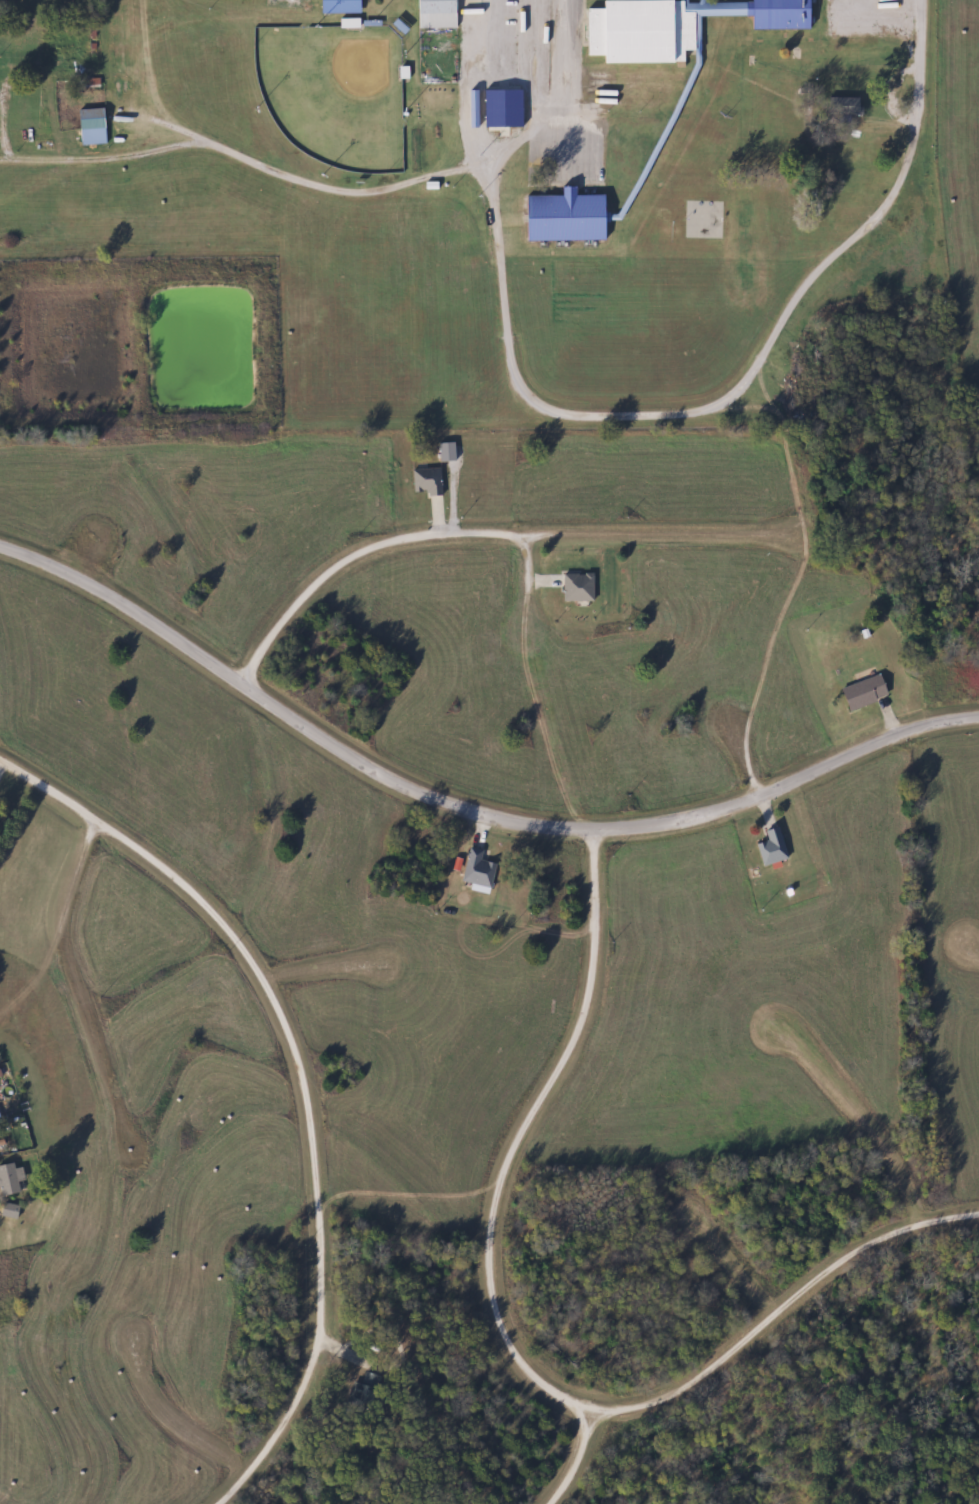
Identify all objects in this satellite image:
building: (434, 14)
building: (673, 26)
road: (919, 81)
building: (841, 105)
building: (89, 118)
road: (406, 181)
building: (561, 216)
building: (425, 481)
road: (101, 529)
road: (473, 533)
building: (575, 587)
road: (549, 605)
building: (861, 692)
road: (746, 763)
road: (464, 806)
building: (769, 847)
building: (476, 869)
road: (332, 964)
road: (81, 994)
road: (300, 1081)
road: (857, 1103)
building: (0, 1117)
road: (522, 1128)
building: (12, 1179)
road: (741, 1265)
road: (779, 1307)
road: (169, 1412)
road: (576, 1459)

